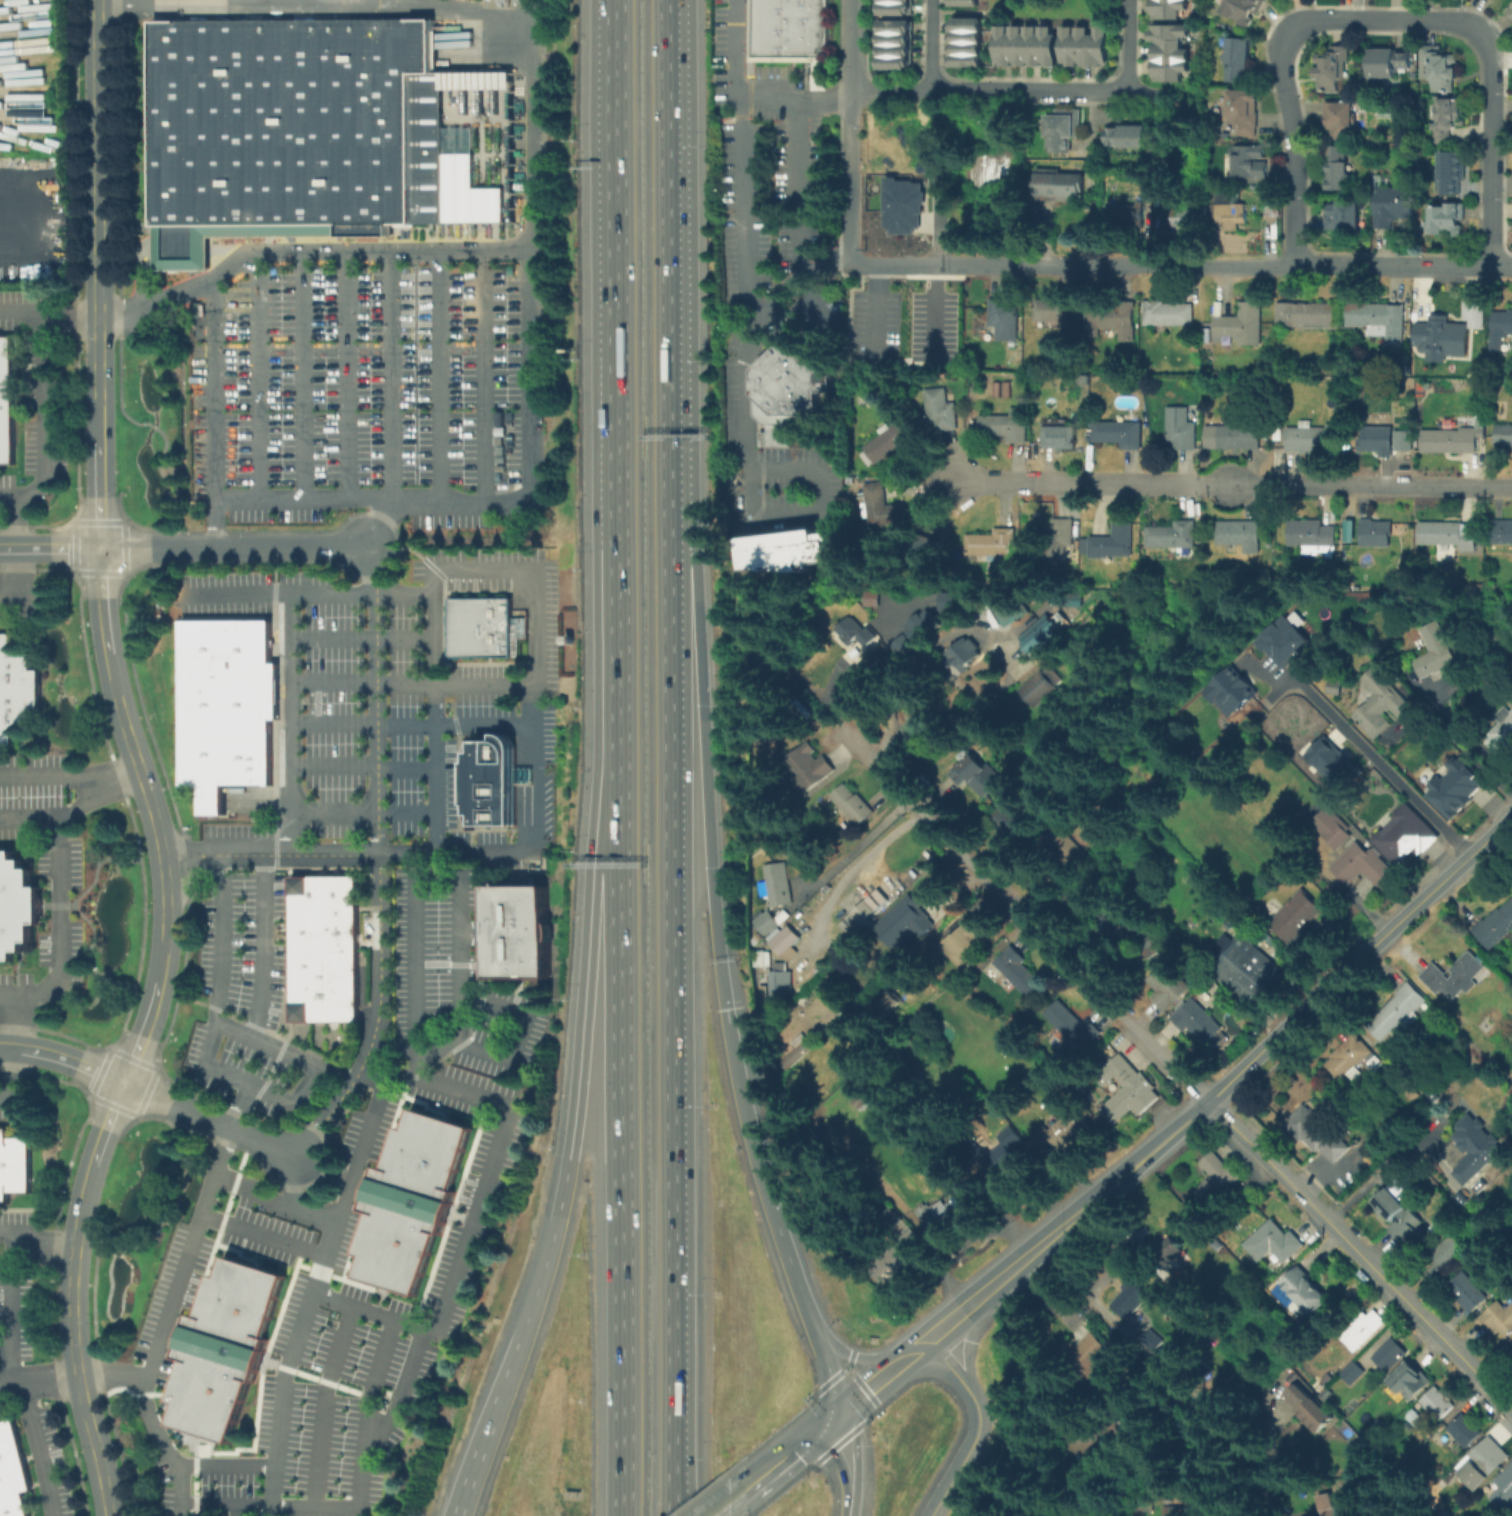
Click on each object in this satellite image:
building: (897, 0)
building: (1492, 0)
building: (961, 2)
building: (895, 7)
road: (1128, 8)
building: (1510, 9)
building: (1169, 10)
building: (1242, 11)
road: (973, 13)
building: (1510, 13)
road: (1385, 18)
building: (964, 23)
building: (895, 26)
building: (787, 30)
building: (964, 35)
building: (895, 37)
road: (849, 44)
road: (933, 44)
building: (964, 47)
building: (1028, 48)
building: (895, 49)
building: (1086, 49)
parking lot: (719, 52)
road: (1126, 52)
building: (1171, 54)
building: (964, 59)
building: (894, 62)
building: (1237, 62)
building: (1389, 65)
building: (1332, 69)
building: (1439, 70)
road: (937, 89)
road: (1093, 90)
road: (750, 91)
building: (1243, 113)
building: (1341, 121)
building: (1447, 122)
building: (1065, 129)
building: (306, 132)
road: (1206, 132)
building: (1127, 139)
road: (797, 149)
building: (1250, 162)
building: (1000, 170)
building: (1337, 170)
building: (1452, 173)
road: (848, 175)
road: (535, 182)
parking lot: (761, 188)
building: (1063, 188)
road: (742, 205)
building: (902, 205)
building: (1394, 208)
building: (1232, 215)
building: (1131, 217)
building: (1183, 219)
building: (1344, 219)
building: (1447, 223)
road: (21, 224)
parking lot: (799, 235)
road: (672, 249)
road: (184, 255)
road: (230, 255)
road: (1072, 264)
road: (1404, 268)
road: (807, 275)
road: (141, 280)
road: (876, 311)
road: (20, 312)
parking lot: (819, 315)
building: (1054, 315)
building: (1169, 315)
building: (1309, 316)
building: (1112, 320)
building: (1004, 322)
building: (1379, 322)
parking lot: (873, 325)
building: (1242, 327)
building: (1502, 329)
building: (1450, 334)
road: (749, 338)
road: (393, 376)
road: (440, 376)
road: (487, 376)
road: (259, 377)
road: (303, 377)
road: (351, 377)
parking lot: (368, 386)
building: (1000, 388)
road: (611, 395)
building: (790, 395)
building: (6, 399)
road: (215, 410)
building: (944, 412)
road: (43, 421)
building: (1007, 426)
road: (99, 430)
building: (1181, 430)
building: (1120, 434)
building: (1505, 435)
building: (1062, 438)
building: (1316, 438)
building: (1239, 439)
building: (1378, 440)
building: (1451, 440)
building: (1405, 441)
building: (892, 442)
parking lot: (777, 469)
road: (1232, 484)
road: (497, 499)
building: (885, 507)
road: (819, 514)
road: (20, 522)
road: (382, 524)
building: (1347, 530)
building: (1447, 533)
building: (1378, 535)
building: (1502, 535)
building: (1173, 536)
building: (1240, 536)
building: (1313, 537)
building: (1059, 539)
building: (1113, 543)
building: (992, 544)
road: (232, 546)
road: (50, 547)
building: (792, 552)
road: (14, 581)
road: (308, 592)
building: (871, 598)
building: (952, 600)
road: (32, 601)
building: (1007, 613)
building: (484, 627)
building: (919, 634)
building: (1042, 634)
road: (363, 638)
building: (1283, 638)
building: (859, 643)
building: (1432, 649)
building: (966, 655)
road: (414, 681)
road: (534, 681)
parking lot: (399, 689)
building: (1335, 689)
building: (16, 690)
building: (1038, 690)
building: (1228, 690)
building: (1382, 705)
building: (230, 706)
road: (947, 719)
road: (413, 722)
road: (293, 723)
building: (1503, 733)
road: (525, 744)
road: (1462, 749)
road: (702, 752)
road: (1380, 761)
building: (1331, 762)
road: (364, 765)
building: (809, 770)
road: (49, 775)
road: (525, 775)
building: (977, 776)
building: (492, 779)
building: (1451, 787)
building: (855, 807)
road: (525, 812)
road: (31, 819)
building: (1016, 826)
building: (1332, 831)
building: (1402, 837)
road: (189, 849)
building: (1069, 853)
road: (327, 854)
road: (864, 860)
road: (379, 861)
road: (161, 866)
building: (1365, 869)
road: (195, 875)
road: (62, 886)
building: (780, 886)
building: (324, 893)
building: (17, 907)
road: (1020, 912)
building: (867, 914)
building: (1297, 918)
building: (770, 920)
building: (915, 923)
building: (1496, 924)
building: (1123, 927)
building: (324, 928)
building: (515, 931)
building: (968, 941)
building: (787, 943)
road: (265, 947)
building: (1148, 947)
building: (765, 960)
building: (324, 966)
building: (1019, 972)
building: (1248, 974)
building: (784, 985)
building: (1170, 987)
building: (1448, 993)
road: (417, 994)
building: (324, 1002)
building: (887, 1004)
road: (672, 1008)
building: (1400, 1014)
building: (1200, 1021)
road: (17, 1022)
road: (461, 1030)
building: (1072, 1033)
building: (801, 1052)
road: (62, 1058)
building: (1347, 1062)
road: (223, 1075)
road: (336, 1075)
road: (9, 1076)
road: (1224, 1083)
building: (1139, 1094)
road: (140, 1105)
road: (240, 1107)
road: (126, 1110)
road: (573, 1110)
road: (208, 1118)
road: (169, 1120)
building: (1062, 1133)
building: (1318, 1135)
building: (1475, 1149)
road: (620, 1152)
building: (1006, 1152)
building: (14, 1165)
road: (1380, 1167)
road: (760, 1172)
road: (297, 1180)
building: (1217, 1181)
road: (489, 1184)
road: (158, 1187)
road: (82, 1193)
building: (412, 1199)
road: (274, 1200)
building: (953, 1213)
building: (1400, 1219)
road: (37, 1233)
road: (263, 1235)
road: (122, 1239)
building: (1274, 1244)
road: (187, 1253)
building: (1447, 1253)
building: (1170, 1254)
road: (1359, 1255)
building: (899, 1256)
building: (1305, 1293)
building: (1468, 1294)
road: (92, 1296)
road: (309, 1299)
building: (1131, 1300)
road: (10, 1310)
parking lot: (326, 1318)
building: (1498, 1319)
building: (1363, 1326)
road: (5, 1340)
road: (967, 1341)
building: (1511, 1346)
building: (224, 1349)
road: (914, 1350)
road: (853, 1357)
building: (1090, 1357)
building: (1391, 1357)
road: (826, 1370)
building: (1353, 1375)
road: (11, 1382)
building: (1411, 1382)
road: (869, 1385)
road: (26, 1391)
road: (401, 1395)
building: (1439, 1404)
road: (324, 1407)
building: (1310, 1410)
traffic signals: (837, 1411)
road: (153, 1425)
road: (979, 1425)
building: (1466, 1432)
road: (790, 1449)
road: (360, 1458)
road: (1272, 1460)
building: (1484, 1461)
road: (846, 1463)
road: (471, 1469)
building: (13, 1473)
road: (273, 1487)
road: (179, 1490)
building: (1505, 1492)
road: (727, 1502)
building: (1331, 1506)
building: (1177, 1512)
building: (1510, 1514)

